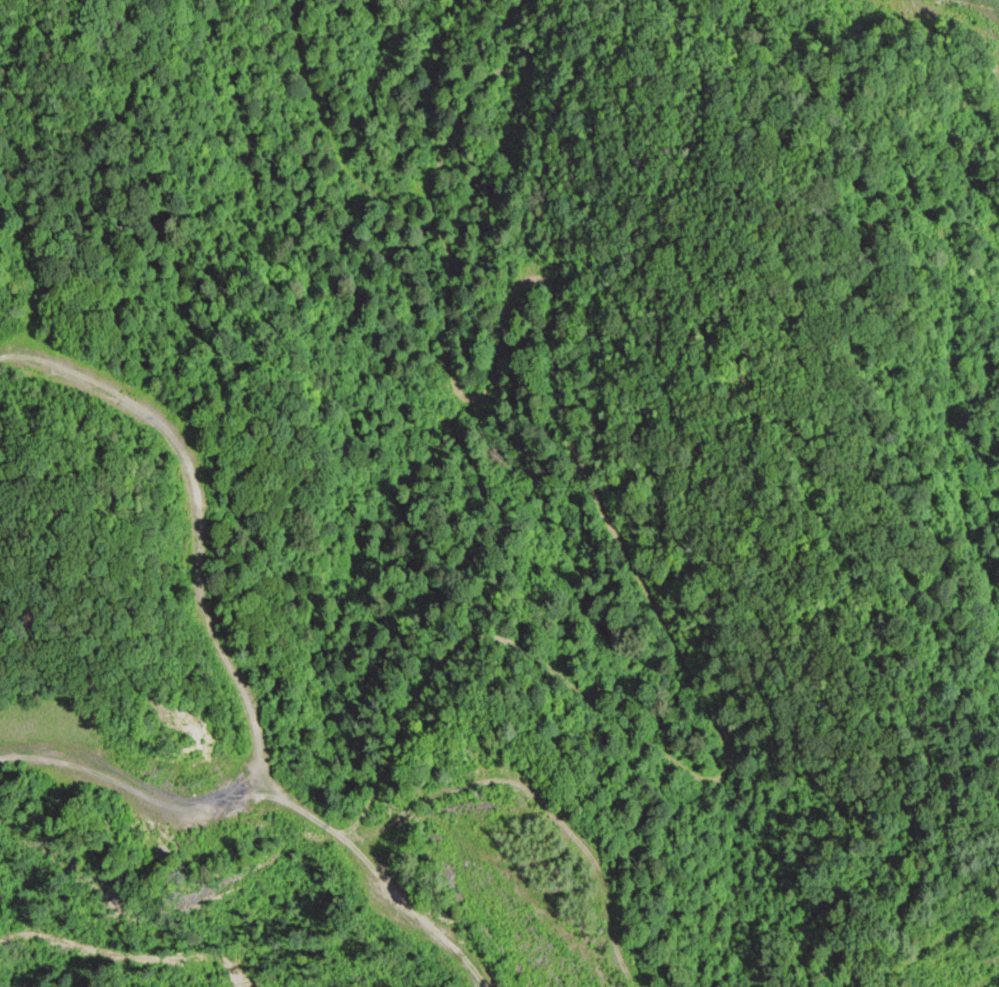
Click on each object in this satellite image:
road: (280, 797)

